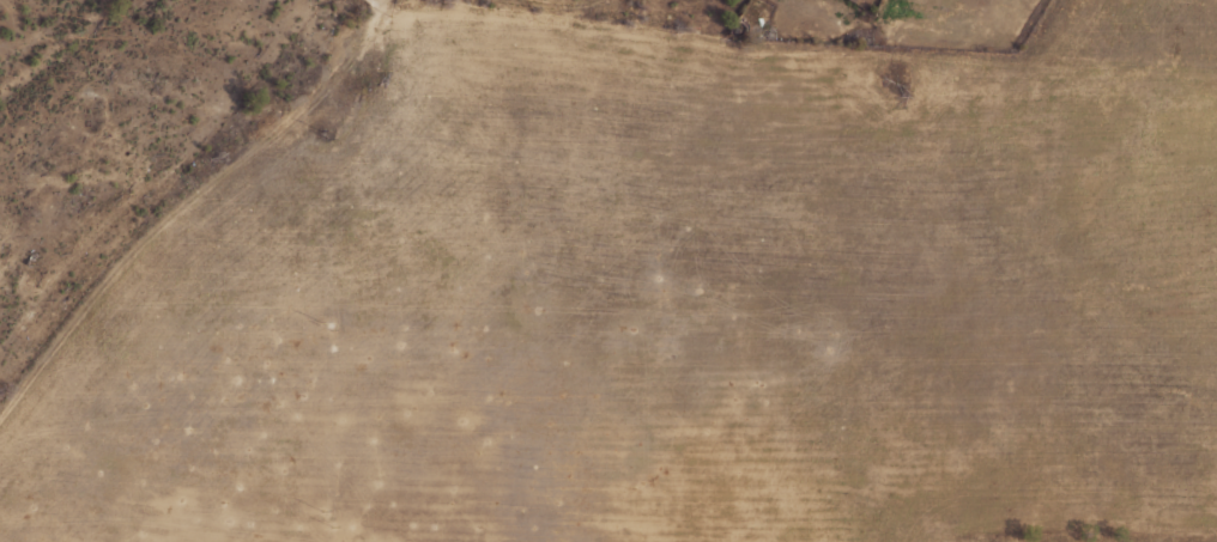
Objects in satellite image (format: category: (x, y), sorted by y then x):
building: (847, 0)
building: (850, 0)
road: (381, 2)
road: (385, 2)
road: (186, 202)

